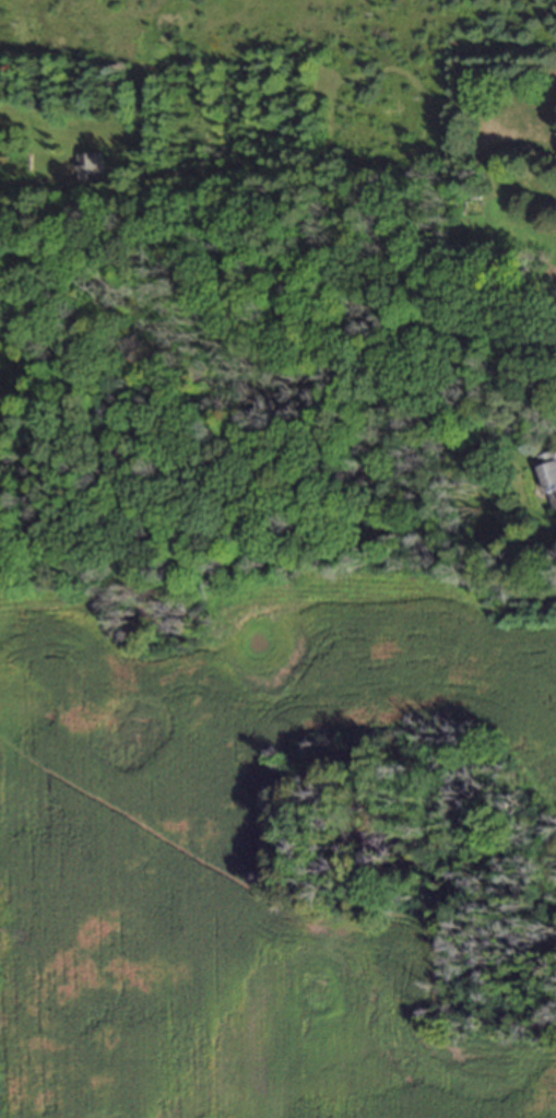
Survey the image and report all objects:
building: (91, 169)
road: (273, 282)
building: (549, 475)

